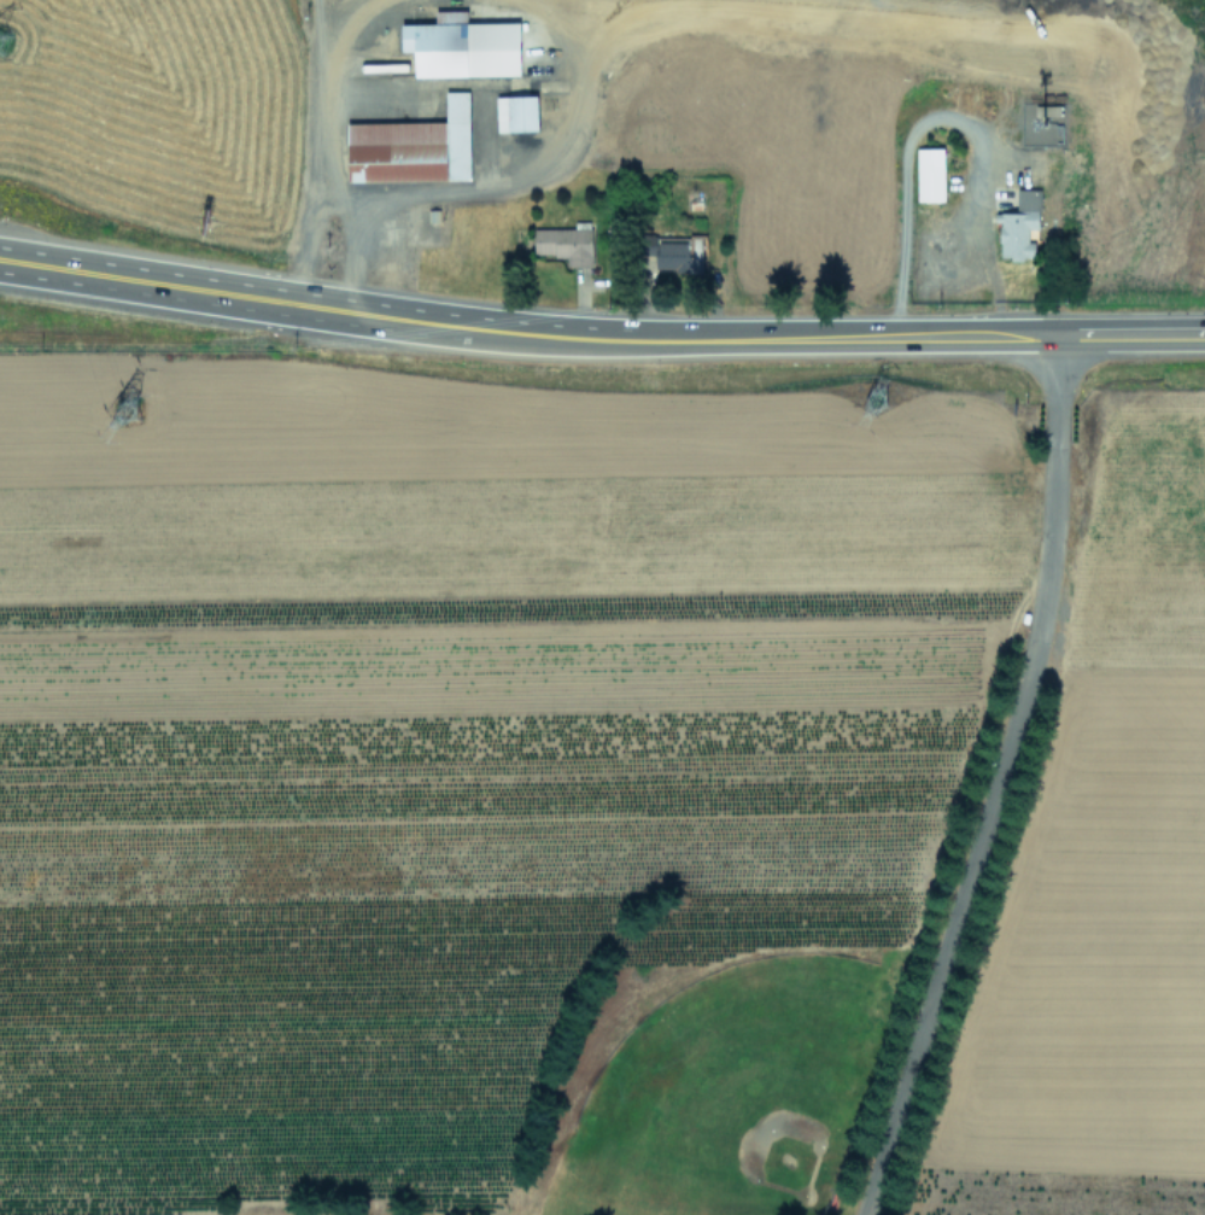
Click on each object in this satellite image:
road: (323, 30)
building: (461, 46)
power tower: (1, 52)
crop: (655, 95)
building: (516, 112)
road: (321, 144)
building: (411, 146)
building: (929, 174)
road: (498, 181)
road: (905, 197)
building: (1018, 226)
building: (565, 243)
building: (678, 253)
road: (129, 279)
road: (345, 311)
road: (528, 333)
road: (914, 335)
power tower: (874, 385)
power tower: (131, 407)
road: (993, 779)
park: (747, 1080)

